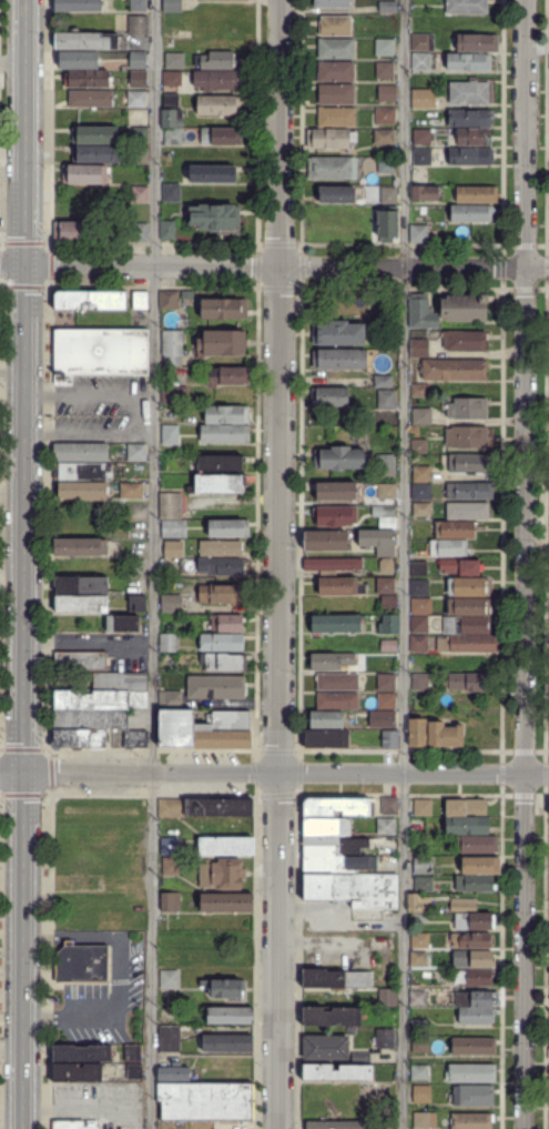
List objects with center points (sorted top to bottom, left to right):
building: (331, 3)
building: (78, 6)
building: (138, 6)
building: (171, 6)
building: (386, 7)
building: (466, 7)
building: (138, 26)
building: (334, 27)
building: (85, 40)
building: (419, 42)
building: (476, 43)
building: (335, 48)
building: (383, 48)
road: (12, 60)
building: (78, 60)
building: (138, 60)
building: (174, 60)
building: (215, 61)
building: (419, 61)
building: (467, 62)
building: (384, 70)
building: (334, 71)
building: (171, 78)
building: (87, 79)
building: (138, 79)
building: (215, 80)
building: (335, 93)
building: (386, 93)
building: (468, 93)
building: (91, 99)
building: (135, 99)
building: (426, 99)
building: (170, 100)
building: (218, 105)
building: (385, 115)
building: (171, 118)
building: (335, 118)
building: (469, 119)
road: (23, 131)
road: (154, 132)
road: (279, 132)
road: (403, 133)
road: (525, 133)
building: (94, 134)
building: (139, 134)
building: (173, 137)
building: (221, 137)
building: (383, 137)
building: (421, 137)
building: (329, 138)
building: (474, 138)
building: (98, 153)
building: (139, 154)
building: (469, 155)
building: (420, 157)
building: (385, 165)
building: (332, 169)
building: (87, 174)
building: (213, 174)
building: (171, 192)
building: (424, 192)
building: (335, 193)
building: (382, 193)
building: (139, 194)
building: (474, 194)
building: (470, 213)
building: (215, 219)
building: (385, 224)
building: (167, 230)
building: (80, 231)
building: (138, 232)
building: (418, 233)
road: (11, 264)
road: (89, 264)
road: (216, 264)
road: (340, 265)
road: (464, 266)
road: (537, 268)
building: (89, 300)
building: (140, 300)
building: (169, 301)
building: (462, 308)
building: (223, 310)
building: (421, 313)
building: (339, 333)
building: (464, 340)
building: (221, 342)
building: (172, 344)
building: (419, 347)
building: (99, 353)
building: (338, 359)
building: (453, 369)
road: (11, 375)
building: (227, 376)
building: (382, 381)
building: (419, 389)
road: (87, 395)
building: (329, 395)
building: (174, 396)
building: (386, 399)
building: (467, 407)
parking lot: (100, 409)
building: (226, 415)
building: (421, 416)
road: (88, 431)
building: (225, 433)
building: (169, 436)
building: (466, 436)
building: (419, 446)
building: (80, 452)
building: (136, 452)
building: (338, 458)
building: (221, 463)
building: (470, 463)
building: (385, 465)
building: (84, 472)
building: (421, 474)
building: (220, 484)
building: (82, 490)
building: (133, 491)
building: (334, 491)
building: (386, 491)
building: (420, 491)
building: (469, 491)
building: (170, 503)
building: (383, 510)
building: (421, 510)
building: (467, 511)
building: (334, 516)
building: (387, 522)
building: (173, 527)
building: (228, 528)
building: (453, 530)
road: (11, 536)
building: (325, 540)
building: (377, 541)
building: (79, 547)
building: (218, 547)
building: (447, 547)
building: (171, 548)
building: (332, 565)
building: (387, 565)
building: (220, 566)
building: (460, 566)
building: (418, 568)
building: (80, 585)
building: (339, 585)
building: (385, 586)
building: (418, 587)
building: (468, 587)
building: (220, 593)
building: (135, 603)
building: (81, 604)
building: (388, 604)
building: (170, 605)
building: (420, 606)
building: (468, 607)
building: (224, 623)
building: (335, 623)
building: (122, 624)
building: (388, 624)
building: (419, 624)
building: (466, 624)
building: (134, 642)
building: (169, 642)
building: (221, 642)
road: (88, 643)
building: (418, 644)
building: (470, 644)
building: (387, 645)
building: (80, 661)
building: (328, 661)
building: (224, 662)
building: (472, 662)
building: (386, 663)
building: (418, 663)
building: (116, 681)
building: (336, 681)
building: (385, 681)
building: (419, 682)
building: (466, 683)
building: (216, 688)
road: (22, 696)
road: (152, 696)
road: (278, 696)
building: (169, 697)
road: (401, 697)
road: (525, 698)
building: (101, 699)
building: (336, 700)
building: (386, 700)
building: (382, 717)
building: (326, 719)
building: (91, 720)
building: (204, 730)
building: (417, 732)
building: (444, 734)
building: (124, 737)
building: (78, 738)
building: (325, 738)
building: (389, 739)
parking lot: (99, 756)
parking lot: (197, 758)
road: (11, 770)
road: (285, 772)
parking lot: (100, 788)
building: (465, 804)
building: (548, 804)
building: (388, 805)
building: (337, 806)
building: (420, 806)
building: (171, 807)
building: (216, 807)
building: (466, 825)
building: (326, 826)
building: (385, 826)
building: (476, 844)
building: (333, 845)
building: (167, 846)
building: (225, 846)
building: (337, 863)
building: (170, 865)
building: (421, 865)
building: (480, 866)
building: (221, 874)
building: (474, 883)
building: (423, 884)
building: (353, 889)
building: (170, 901)
building: (225, 903)
building: (418, 903)
building: (461, 905)
building: (472, 921)
road: (71, 936)
building: (470, 939)
building: (418, 940)
building: (417, 957)
building: (471, 960)
building: (81, 962)
building: (472, 977)
building: (167, 979)
building: (334, 979)
building: (224, 988)
parking lot: (101, 997)
building: (386, 997)
building: (416, 998)
building: (474, 998)
road: (108, 1015)
building: (228, 1016)
building: (331, 1016)
building: (477, 1016)
building: (418, 1026)
building: (350, 1030)
building: (384, 1038)
building: (167, 1039)
building: (223, 1042)
building: (419, 1045)
building: (471, 1046)
building: (325, 1047)
building: (81, 1052)
building: (132, 1052)
road: (11, 1057)
building: (359, 1057)
building: (75, 1071)
building: (133, 1071)
building: (172, 1072)
building: (336, 1072)
building: (420, 1072)
building: (470, 1073)
building: (420, 1093)
building: (471, 1095)
building: (205, 1101)
parking lot: (100, 1103)
building: (420, 1120)
building: (470, 1120)
road: (11, 1123)
building: (70, 1125)
building: (337, 1125)

